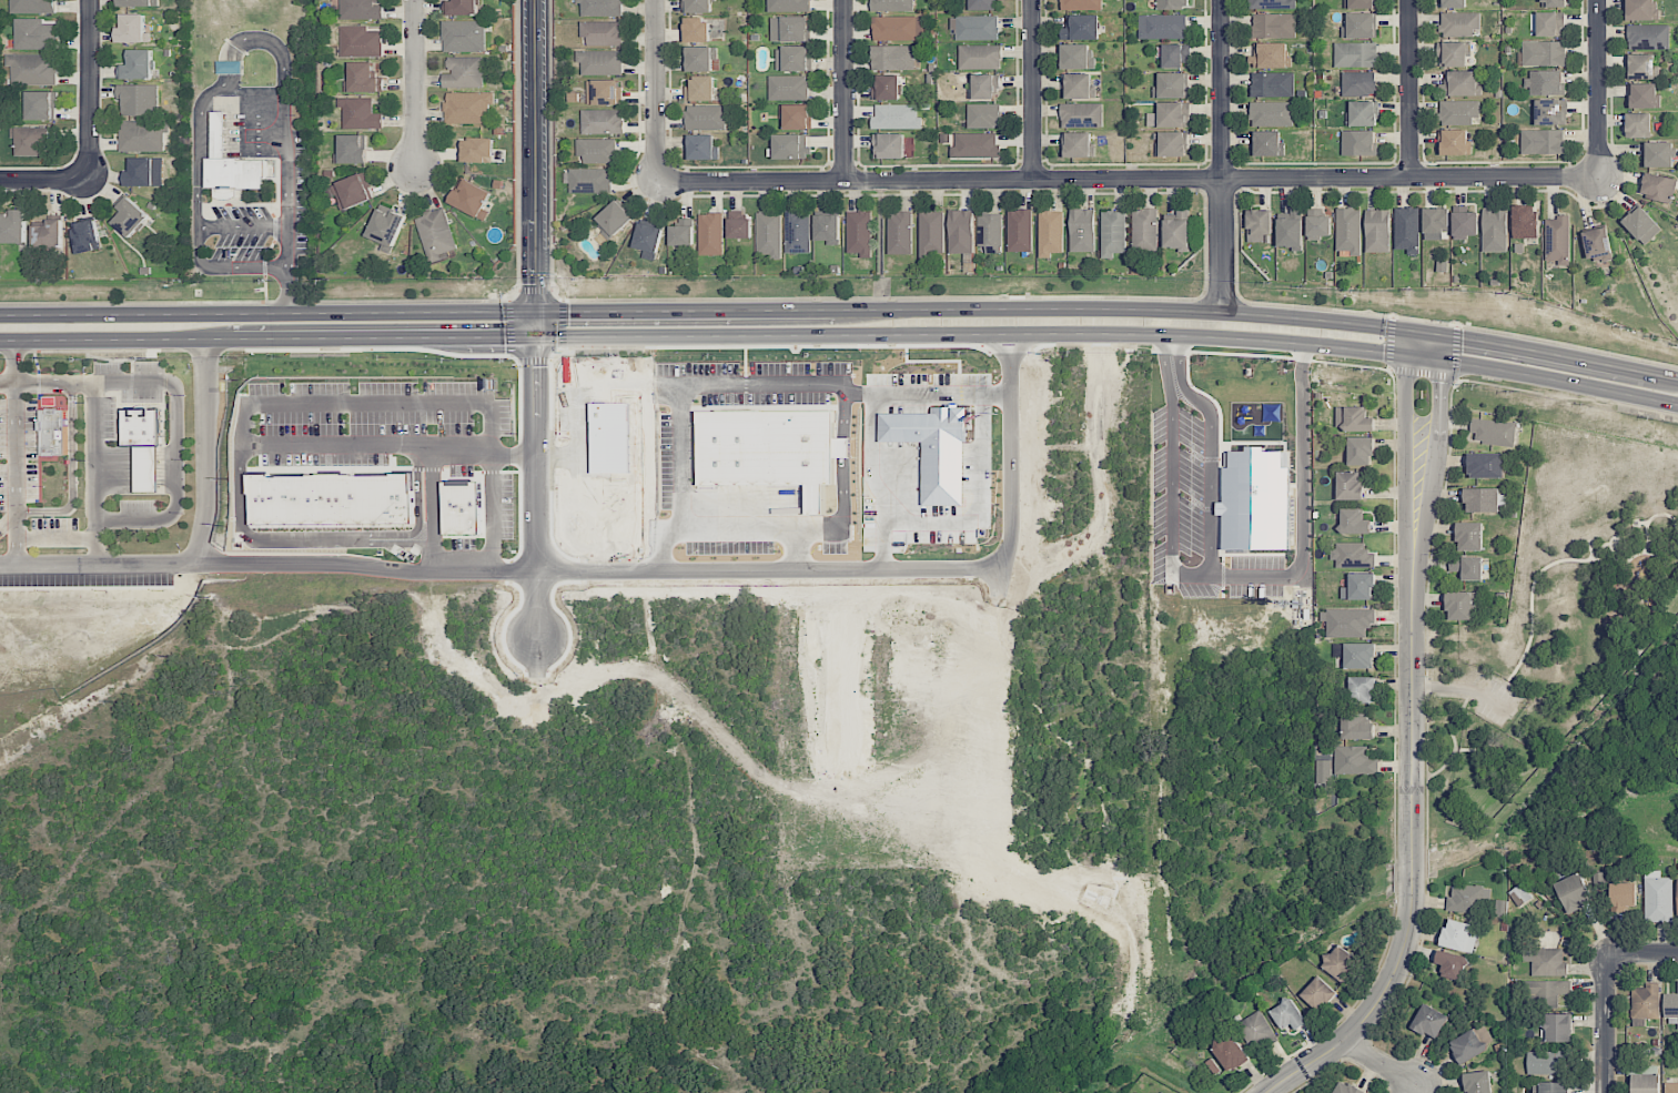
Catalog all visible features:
building: (138, 2)
building: (1454, 3)
building: (1553, 3)
building: (788, 4)
building: (981, 4)
building: (1080, 4)
building: (1173, 4)
building: (1273, 4)
building: (1361, 4)
building: (697, 6)
building: (892, 6)
building: (32, 7)
building: (600, 8)
building: (362, 9)
building: (1641, 10)
building: (1459, 23)
building: (1549, 24)
building: (1273, 26)
building: (1359, 26)
building: (1162, 27)
building: (898, 28)
building: (976, 28)
building: (1080, 28)
building: (132, 29)
building: (790, 29)
building: (697, 30)
building: (602, 33)
building: (36, 34)
building: (464, 36)
building: (1648, 37)
building: (361, 41)
road: (271, 47)
building: (1544, 53)
building: (1355, 54)
building: (1452, 54)
building: (1175, 55)
building: (1270, 55)
building: (980, 57)
building: (1076, 57)
building: (893, 58)
building: (699, 59)
building: (792, 59)
building: (600, 61)
building: (137, 65)
building: (1641, 67)
building: (33, 69)
building: (464, 72)
building: (363, 79)
building: (1545, 82)
road: (414, 83)
building: (1358, 83)
building: (1272, 84)
building: (1460, 84)
building: (1171, 85)
building: (788, 87)
building: (887, 87)
building: (983, 87)
building: (1078, 87)
building: (700, 89)
road: (843, 90)
road: (89, 91)
road: (653, 91)
road: (1408, 91)
road: (250, 92)
building: (604, 92)
road: (1032, 92)
road: (1597, 94)
building: (1642, 95)
building: (138, 100)
building: (42, 105)
building: (468, 108)
building: (1458, 112)
building: (1550, 112)
building: (360, 113)
building: (1271, 113)
building: (1362, 113)
building: (1173, 114)
building: (983, 115)
building: (1082, 115)
building: (705, 117)
building: (797, 117)
building: (896, 117)
building: (603, 121)
building: (1638, 125)
building: (33, 141)
building: (1541, 142)
building: (1266, 143)
building: (1358, 143)
building: (1454, 143)
building: (1079, 144)
building: (1172, 144)
building: (790, 145)
building: (889, 145)
building: (976, 145)
building: (700, 148)
building: (352, 150)
building: (476, 150)
building: (597, 151)
building: (1658, 154)
road: (1220, 155)
road: (535, 168)
building: (145, 172)
building: (239, 173)
building: (590, 180)
road: (44, 182)
road: (1125, 182)
building: (1658, 188)
building: (351, 192)
building: (471, 199)
road: (290, 202)
road: (193, 211)
building: (129, 216)
building: (614, 220)
building: (1436, 220)
building: (1524, 221)
building: (1464, 223)
building: (1317, 224)
building: (1258, 225)
building: (1641, 225)
building: (12, 226)
road: (242, 226)
building: (386, 226)
building: (740, 226)
building: (828, 229)
building: (1145, 230)
building: (1177, 230)
building: (1291, 230)
building: (1407, 230)
building: (1494, 230)
building: (1020, 231)
building: (1082, 231)
building: (1348, 231)
building: (1377, 231)
building: (798, 232)
building: (961, 232)
building: (990, 232)
building: (683, 233)
building: (859, 233)
building: (900, 233)
building: (931, 233)
building: (1051, 233)
building: (1113, 233)
building: (435, 234)
building: (710, 234)
building: (769, 234)
building: (48, 235)
building: (87, 236)
building: (1557, 240)
building: (648, 241)
building: (1597, 245)
traffic signals: (536, 279)
road: (841, 310)
traffic signals: (564, 312)
road: (720, 335)
traffic signals: (497, 337)
traffic signals: (1463, 337)
road: (1442, 347)
traffic signals: (1383, 352)
road: (1559, 381)
road: (7, 383)
traffic signals: (1439, 386)
road: (750, 387)
road: (660, 388)
road: (1406, 388)
road: (378, 402)
road: (1439, 404)
building: (1354, 418)
building: (143, 427)
road: (175, 432)
building: (1494, 432)
building: (54, 434)
road: (641, 441)
road: (1211, 448)
road: (13, 452)
road: (93, 452)
building: (1361, 452)
building: (1485, 465)
building: (148, 468)
road: (1171, 473)
road: (871, 486)
building: (1350, 486)
road: (245, 494)
building: (1256, 500)
building: (1482, 500)
road: (1303, 503)
road: (438, 514)
road: (495, 514)
building: (1354, 522)
road: (756, 532)
road: (651, 536)
building: (1469, 536)
road: (55, 538)
road: (206, 551)
building: (1354, 556)
road: (317, 567)
building: (1467, 567)
road: (765, 573)
building: (1358, 587)
building: (1463, 605)
building: (1348, 623)
building: (1355, 655)
road: (1464, 688)
building: (1362, 689)
building: (1357, 727)
building: (1354, 760)
building: (1323, 771)
road: (1412, 798)
building: (1574, 892)
building: (1677, 895)
building: (1624, 897)
building: (1658, 898)
building: (1465, 899)
building: (1459, 935)
road: (1640, 957)
building: (1545, 961)
building: (1340, 963)
building: (1452, 965)
building: (1547, 991)
building: (1318, 994)
building: (1644, 1004)
building: (1672, 1011)
building: (1288, 1015)
building: (1429, 1021)
road: (1604, 1025)
building: (1558, 1028)
building: (1255, 1030)
building: (1467, 1046)
building: (1230, 1052)
building: (1547, 1062)
road: (1378, 1063)
building: (1478, 1082)
building: (1646, 1083)
building: (1346, 1087)
building: (1554, 1087)
building: (1670, 1087)

